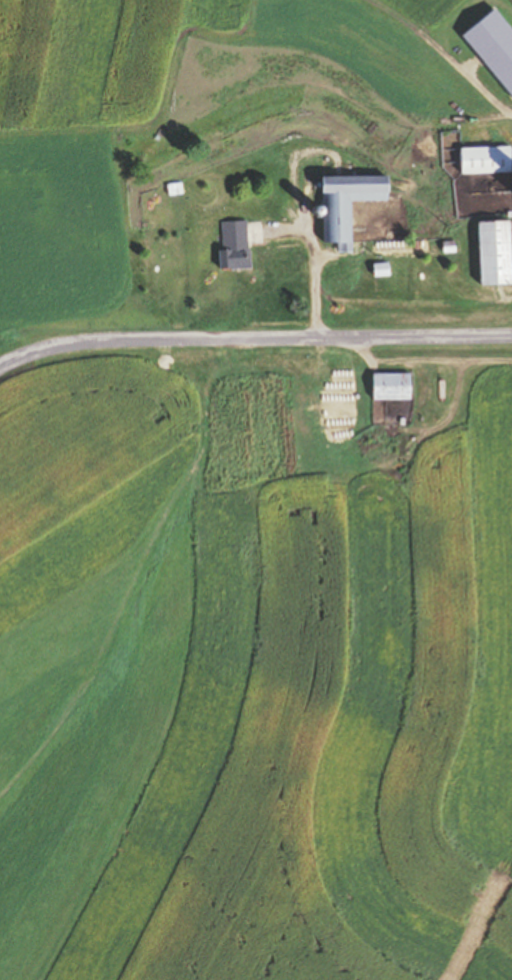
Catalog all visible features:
building: (487, 160)
building: (176, 190)
building: (349, 205)
building: (235, 246)
building: (496, 253)
road: (253, 329)
building: (392, 387)

